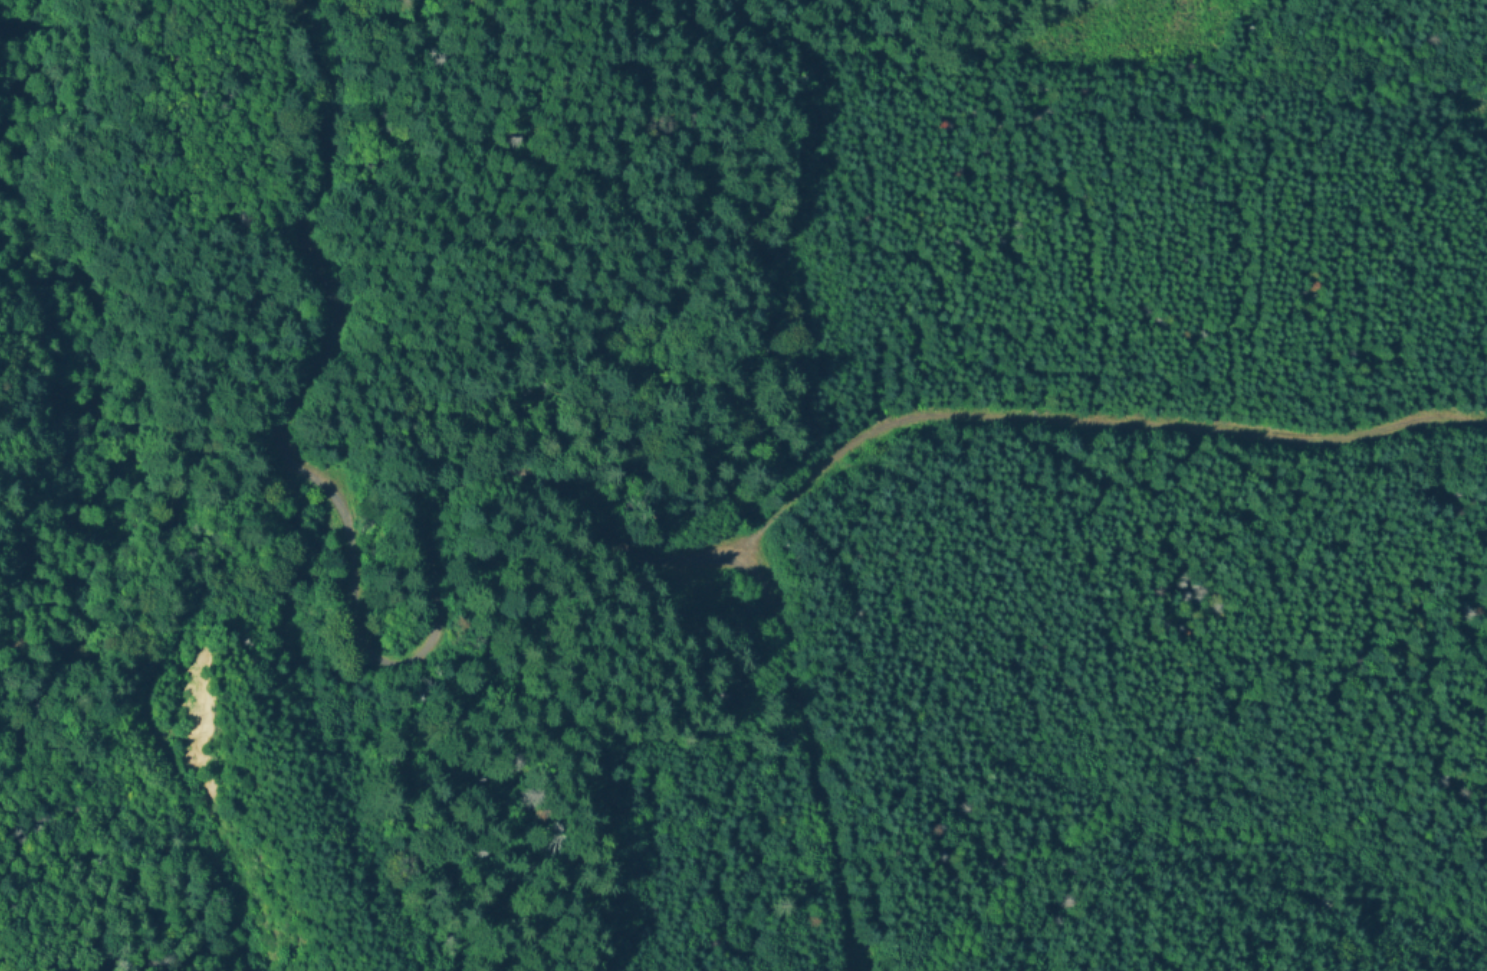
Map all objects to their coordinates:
road: (882, 425)
road: (676, 559)

